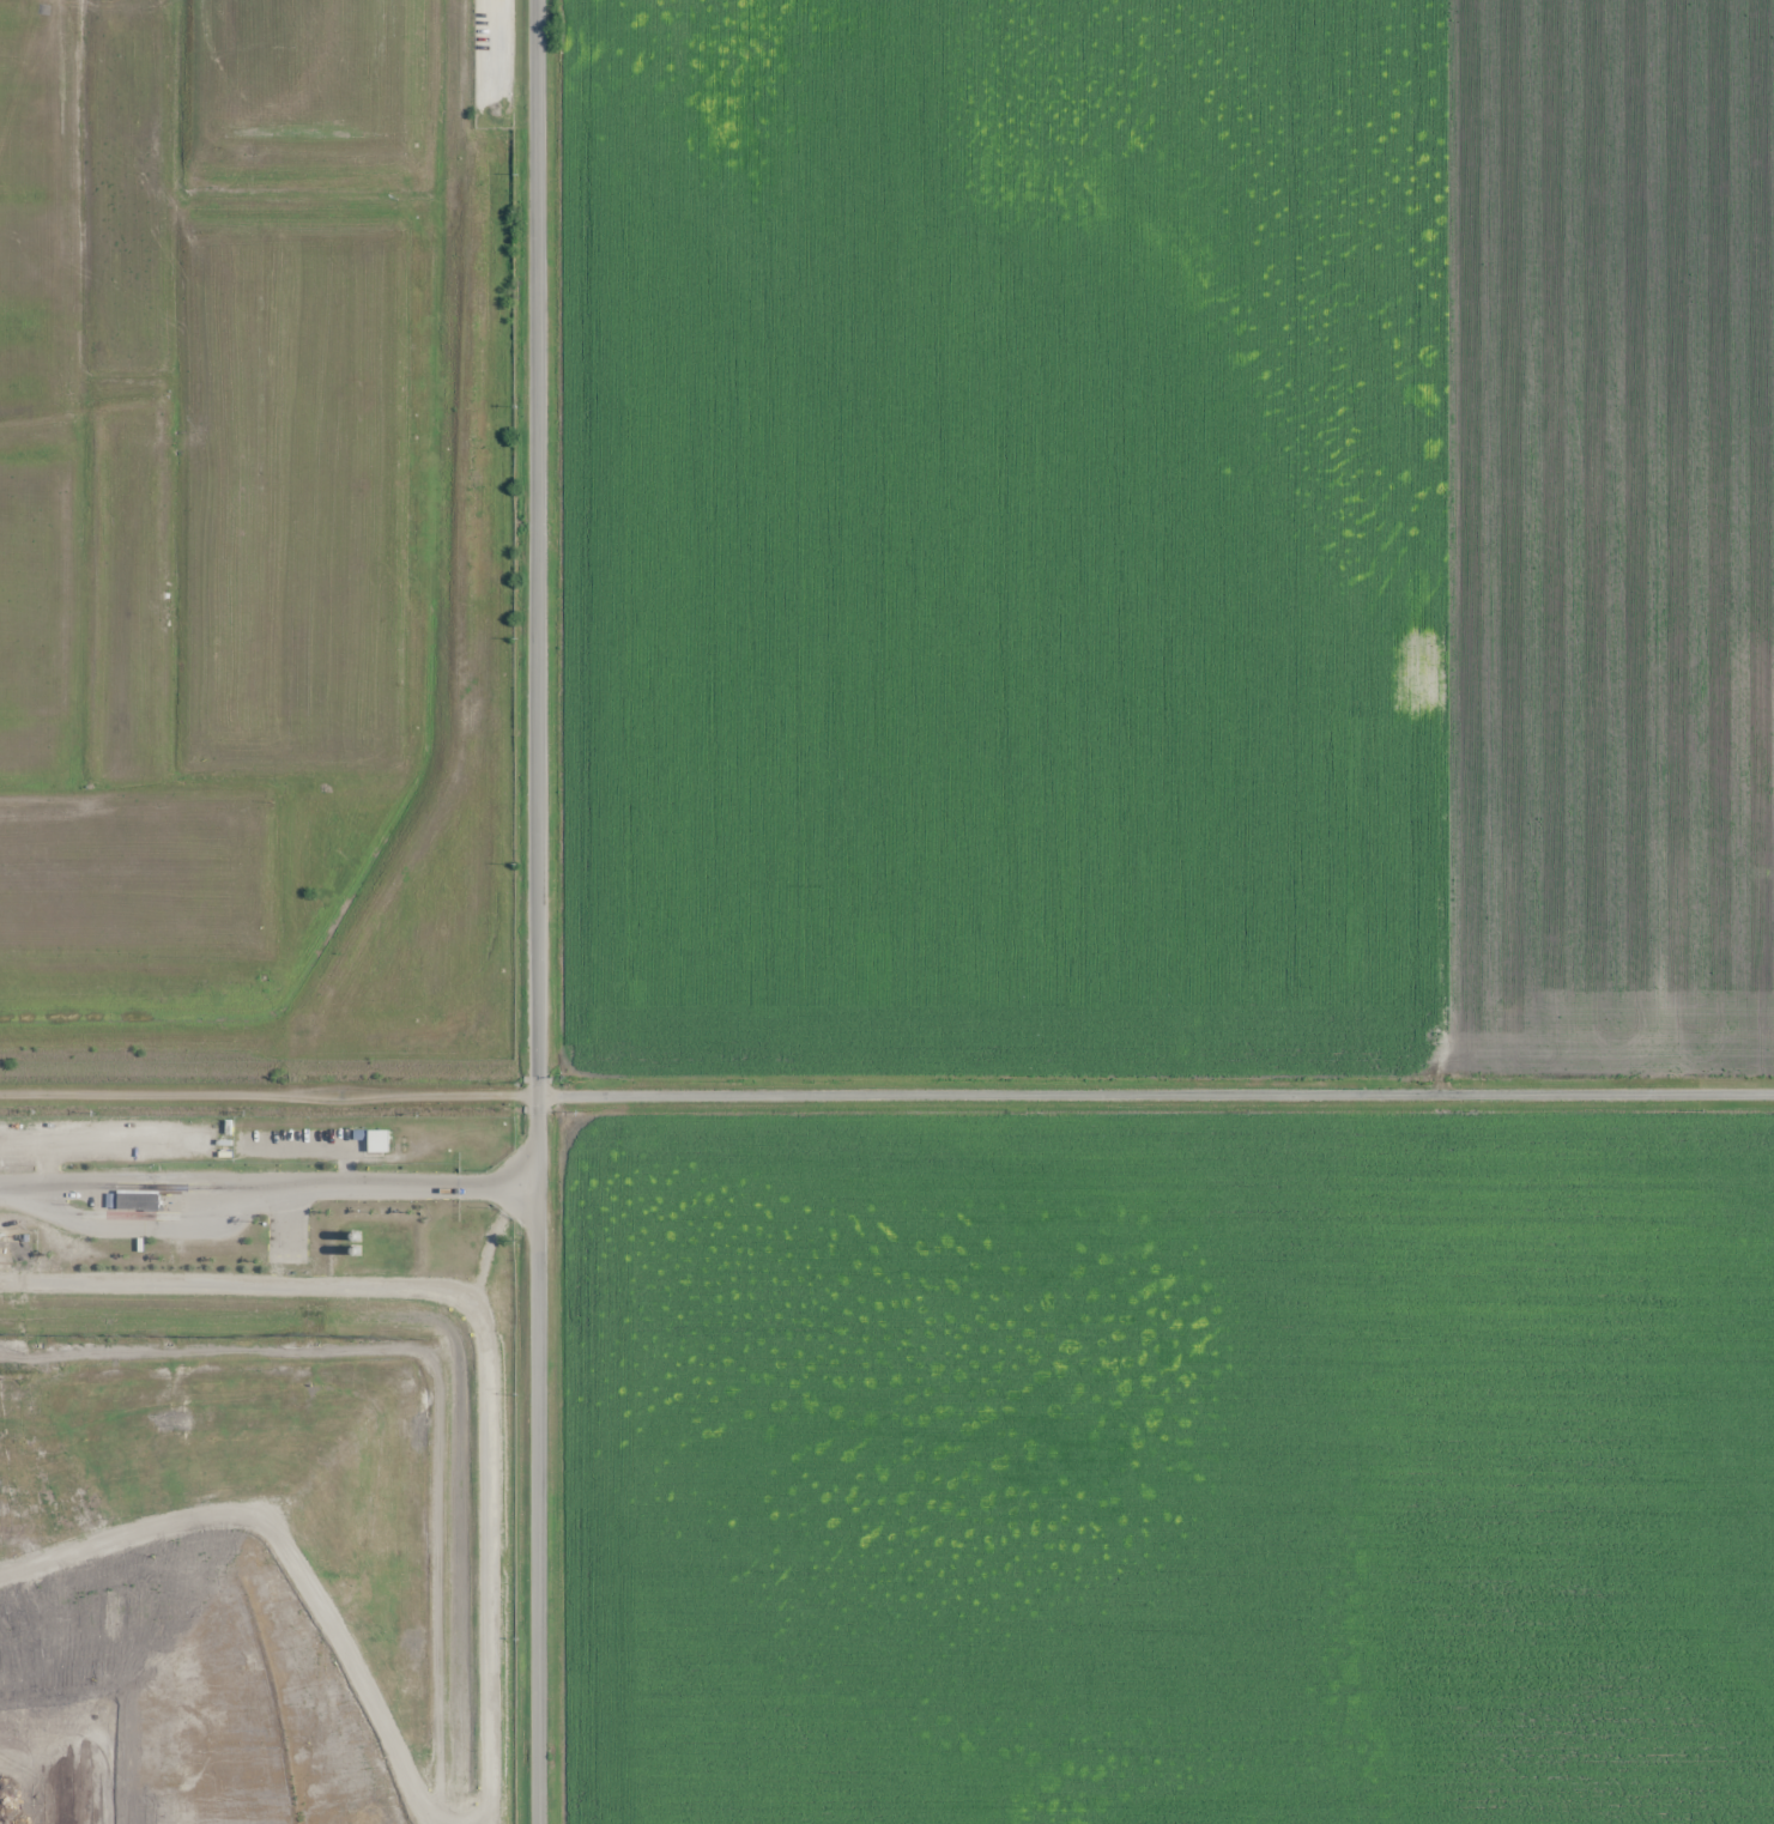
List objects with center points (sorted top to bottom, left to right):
road: (523, 911)
road: (886, 1093)
building: (379, 1141)
building: (138, 1196)

